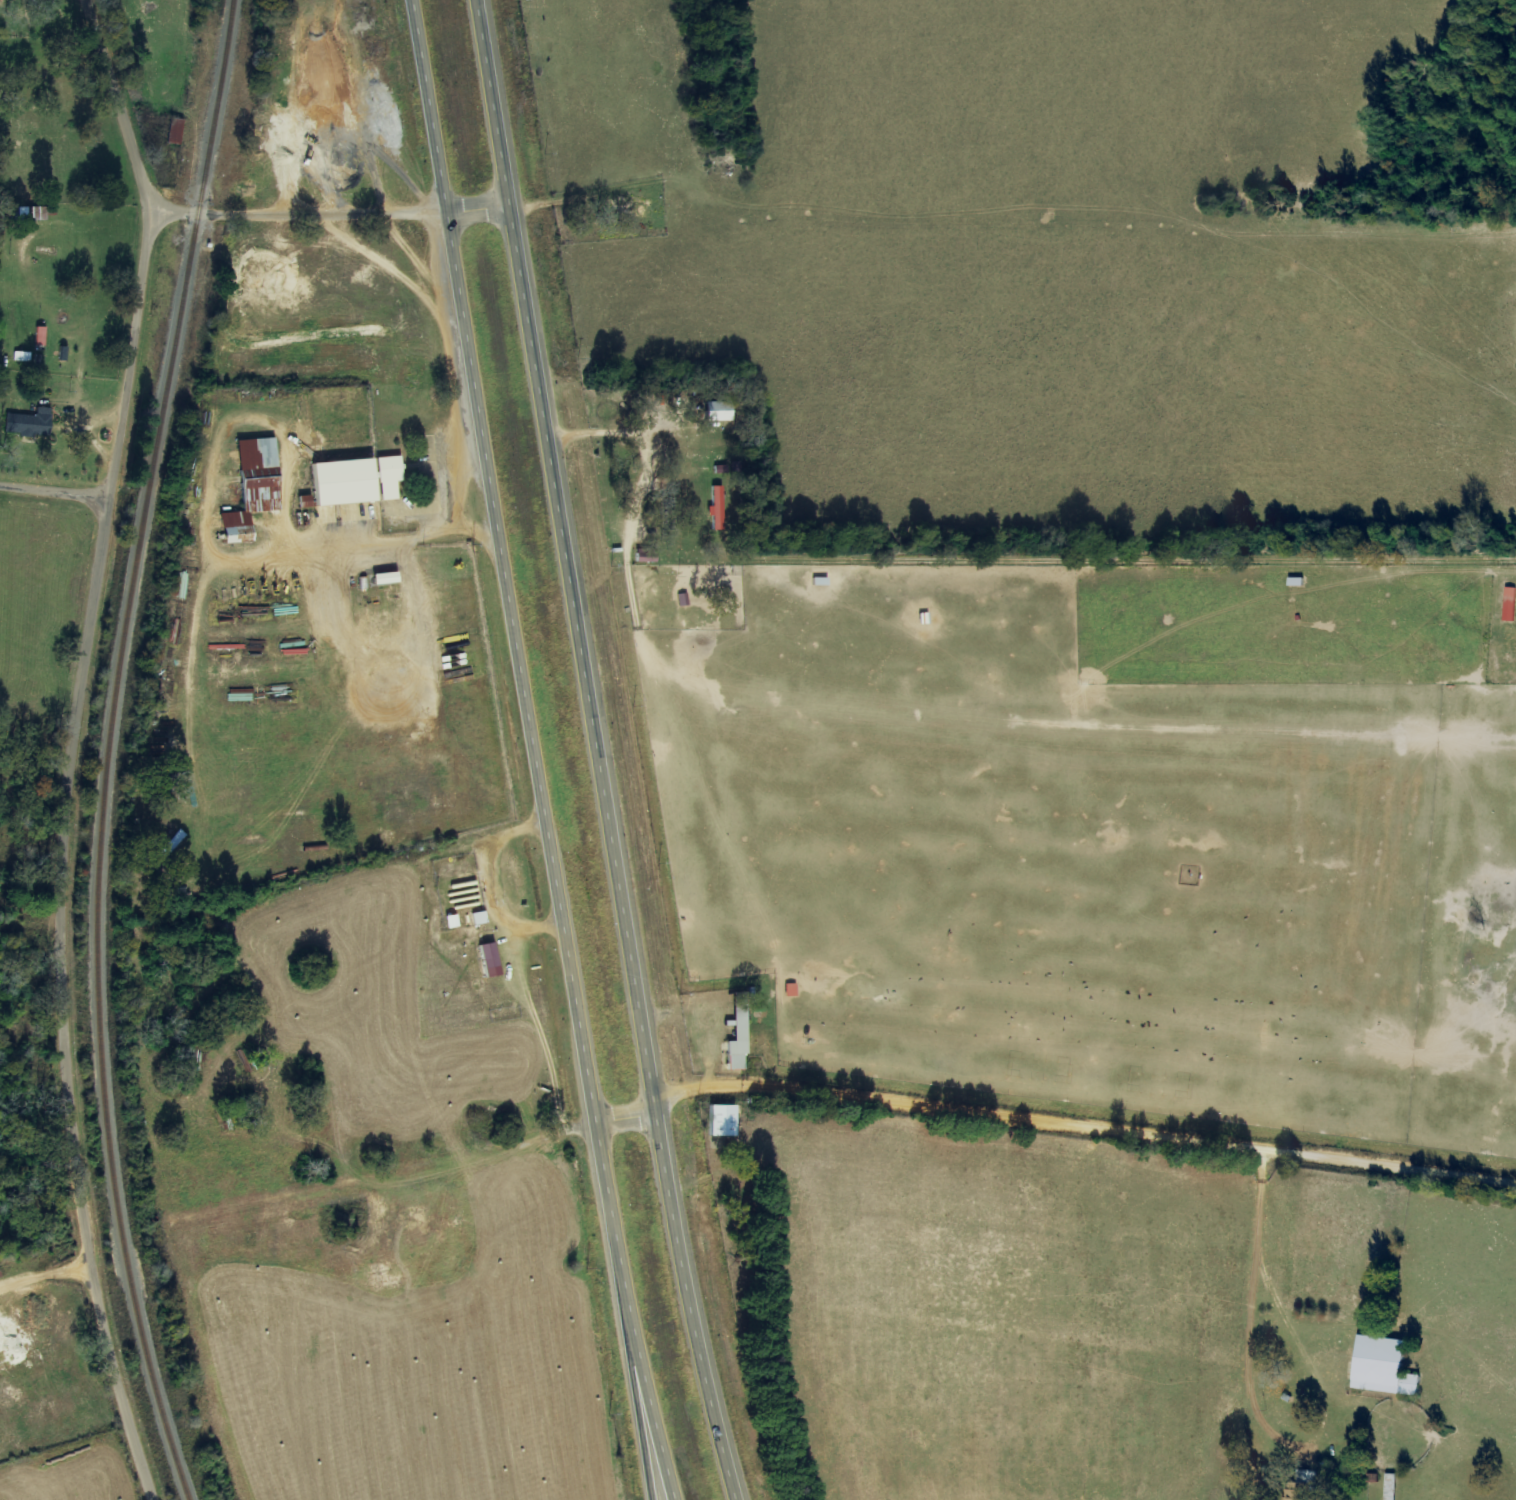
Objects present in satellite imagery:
building: (1, 0)
building: (176, 131)
road: (329, 211)
building: (41, 336)
building: (721, 412)
building: (30, 423)
building: (392, 469)
building: (347, 483)
building: (255, 488)
road: (54, 496)
building: (307, 502)
building: (718, 508)
building: (647, 556)
building: (388, 577)
building: (1510, 604)
road: (73, 747)
railway: (106, 750)
road: (541, 751)
road: (602, 751)
building: (479, 918)
building: (452, 921)
building: (491, 960)
building: (793, 990)
building: (740, 1034)
building: (725, 1121)
road: (1084, 1124)
road: (1267, 1326)
building: (1382, 1364)
road: (645, 1397)
building: (1392, 1487)
building: (1299, 1491)

